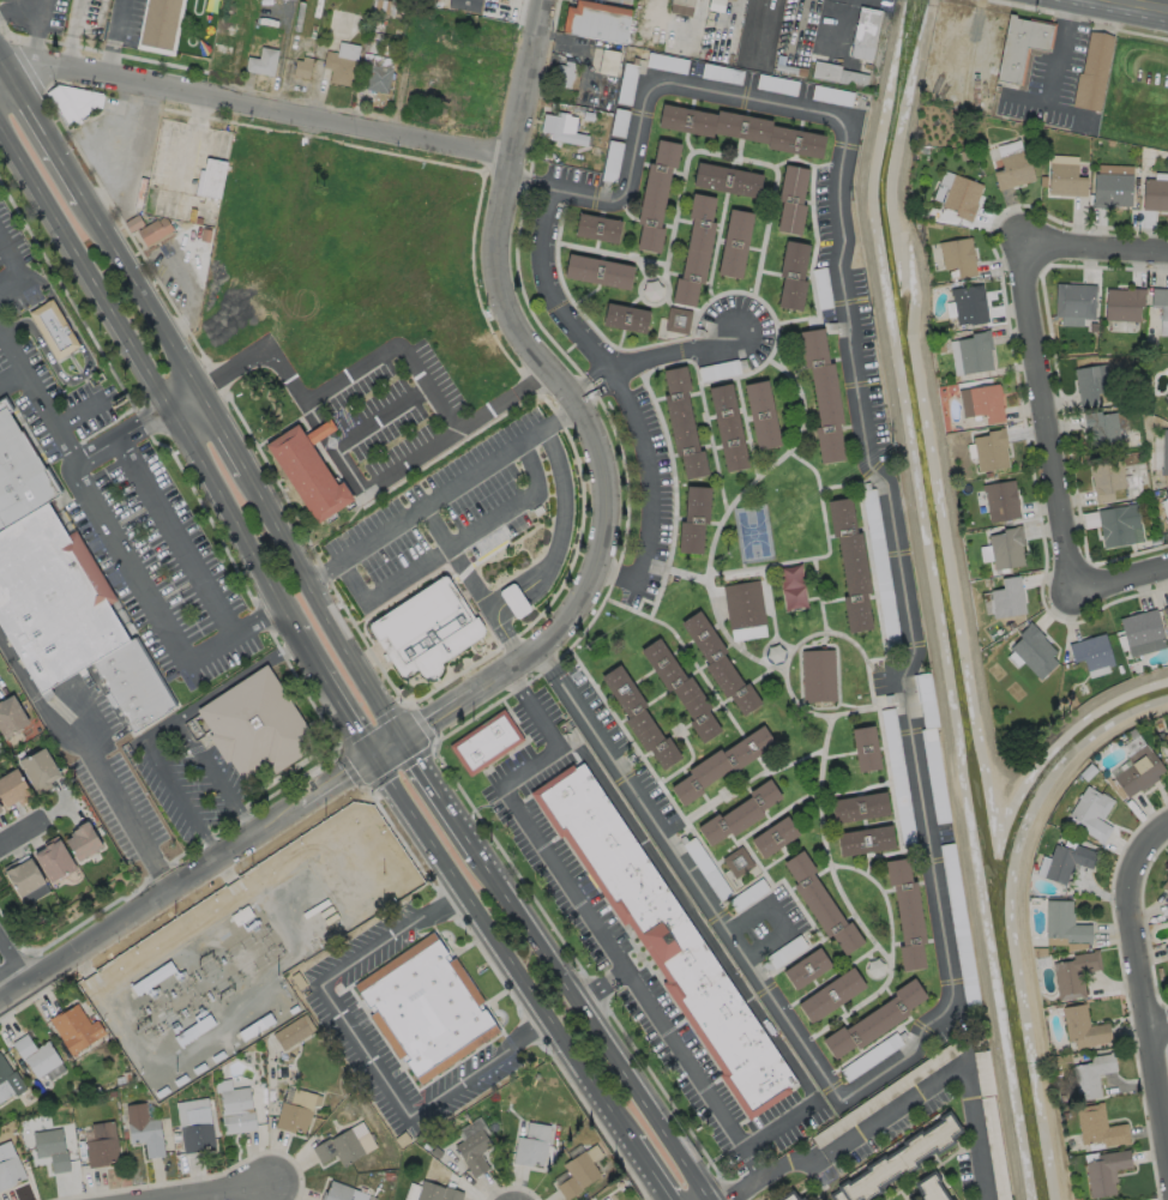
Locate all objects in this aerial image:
building: (733, 0)
building: (682, 1)
building: (465, 5)
building: (389, 6)
road: (1137, 6)
road: (19, 11)
building: (259, 13)
building: (595, 19)
building: (157, 22)
building: (863, 31)
road: (115, 38)
building: (1021, 46)
road: (1064, 50)
road: (6, 56)
building: (260, 60)
building: (607, 60)
building: (301, 66)
building: (338, 67)
building: (1091, 71)
building: (562, 73)
building: (836, 73)
building: (374, 74)
building: (72, 100)
road: (257, 108)
building: (554, 125)
building: (740, 127)
road: (50, 129)
road: (133, 152)
building: (1012, 170)
building: (1064, 176)
building: (211, 177)
building: (724, 179)
road: (530, 185)
building: (1112, 185)
building: (943, 186)
building: (654, 193)
building: (1155, 194)
building: (959, 197)
building: (790, 198)
building: (134, 223)
building: (596, 227)
building: (153, 230)
building: (733, 241)
road: (1091, 242)
building: (693, 249)
building: (957, 255)
parking lot: (17, 261)
parking lot: (541, 267)
building: (596, 270)
road: (17, 271)
building: (791, 273)
building: (650, 288)
road: (185, 289)
road: (144, 294)
building: (1073, 300)
building: (1160, 300)
building: (968, 303)
building: (1122, 303)
building: (624, 315)
building: (676, 319)
building: (55, 330)
parking lot: (737, 332)
building: (974, 351)
road: (673, 352)
road: (379, 357)
parking lot: (861, 366)
road: (86, 372)
road: (612, 375)
road: (582, 380)
road: (145, 381)
building: (1089, 381)
road: (13, 382)
building: (821, 393)
road: (592, 396)
building: (986, 402)
road: (182, 403)
road: (566, 408)
road: (79, 412)
parking lot: (395, 412)
building: (760, 414)
road: (1043, 414)
building: (680, 421)
building: (727, 426)
building: (1101, 429)
road: (223, 432)
road: (120, 435)
building: (989, 450)
building: (1163, 451)
road: (866, 457)
road: (350, 469)
building: (309, 470)
building: (1104, 478)
road: (440, 499)
building: (999, 499)
parking lot: (645, 501)
building: (692, 517)
road: (561, 519)
parking lot: (133, 520)
building: (1118, 524)
parking lot: (429, 530)
park: (751, 533)
road: (176, 536)
road: (118, 544)
road: (452, 544)
building: (1005, 547)
building: (878, 559)
building: (848, 562)
road: (1119, 579)
road: (476, 585)
building: (791, 586)
building: (60, 592)
road: (512, 598)
building: (1009, 599)
building: (513, 601)
building: (742, 603)
road: (324, 605)
road: (499, 607)
building: (1166, 611)
building: (1012, 627)
building: (427, 629)
building: (999, 632)
building: (1143, 632)
building: (773, 652)
building: (1035, 652)
building: (1094, 653)
road: (548, 661)
building: (716, 662)
building: (817, 674)
building: (680, 688)
road: (335, 695)
building: (923, 698)
building: (1072, 701)
building: (637, 717)
building: (12, 718)
road: (157, 728)
building: (257, 728)
building: (37, 730)
building: (0, 738)
traffic signals: (404, 741)
building: (1166, 741)
building: (489, 742)
building: (863, 747)
parking lot: (616, 752)
road: (95, 758)
traffic signals: (374, 761)
building: (720, 762)
building: (42, 770)
building: (1139, 772)
building: (933, 774)
building: (896, 776)
parking lot: (189, 782)
building: (14, 789)
road: (440, 798)
building: (857, 806)
building: (1, 807)
building: (739, 813)
building: (1094, 813)
parking lot: (544, 833)
road: (22, 834)
building: (772, 836)
building: (863, 839)
building: (86, 844)
road: (1146, 844)
building: (58, 862)
building: (736, 862)
building: (1068, 862)
building: (705, 868)
road: (201, 873)
building: (29, 880)
road: (694, 884)
building: (1166, 886)
building: (747, 896)
building: (819, 901)
building: (905, 912)
road: (779, 913)
building: (242, 916)
road: (589, 921)
parking lot: (769, 921)
building: (1066, 924)
building: (958, 925)
road: (11, 931)
parking lot: (360, 940)
building: (668, 942)
road: (714, 947)
road: (502, 949)
building: (784, 951)
building: (1041, 952)
building: (1167, 952)
parking lot: (375, 958)
power substation: (241, 961)
road: (13, 965)
building: (805, 967)
building: (873, 967)
building: (1076, 975)
building: (155, 978)
building: (300, 981)
road: (2, 995)
building: (830, 995)
building: (295, 1011)
building: (427, 1011)
road: (1142, 1017)
building: (873, 1019)
building: (206, 1024)
building: (258, 1027)
road: (595, 1027)
parking lot: (944, 1027)
building: (1084, 1029)
road: (1156, 1029)
building: (77, 1030)
building: (295, 1032)
building: (188, 1036)
parking lot: (378, 1044)
road: (363, 1050)
building: (869, 1055)
building: (40, 1057)
parking lot: (355, 1065)
parking lot: (457, 1072)
building: (985, 1074)
building: (1094, 1077)
building: (128, 1078)
building: (10, 1079)
building: (121, 1080)
road: (937, 1083)
parking lot: (712, 1087)
parking lot: (471, 1090)
building: (97, 1091)
building: (113, 1095)
building: (887, 1095)
building: (1061, 1097)
building: (240, 1111)
building: (296, 1112)
building: (1067, 1116)
building: (197, 1127)
building: (1100, 1127)
building: (145, 1130)
building: (126, 1135)
building: (177, 1138)
building: (536, 1139)
building: (404, 1140)
building: (566, 1140)
building: (103, 1146)
building: (53, 1147)
building: (995, 1148)
building: (341, 1150)
building: (179, 1151)
building: (438, 1153)
building: (475, 1153)
building: (899, 1159)
building: (11, 1166)
building: (582, 1170)
road: (651, 1170)
building: (1107, 1172)
road: (764, 1174)
building: (439, 1188)
building: (937, 1190)
building: (366, 1192)
building: (411, 1192)
road: (224, 1193)
building: (343, 1193)
building: (606, 1196)
building: (795, 1196)
building: (1078, 1199)

